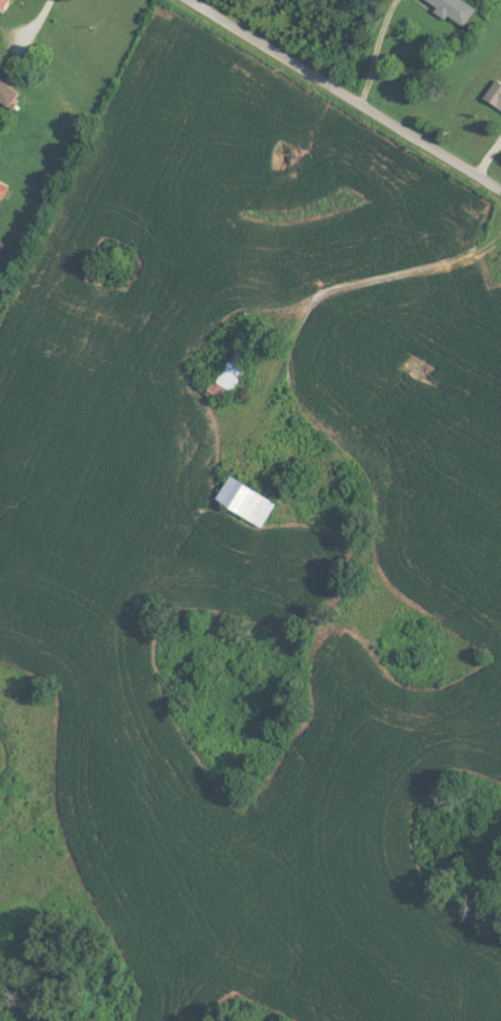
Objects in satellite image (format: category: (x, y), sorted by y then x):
building: (5, 5)
building: (457, 10)
road: (41, 23)
road: (375, 51)
building: (9, 93)
road: (344, 95)
building: (496, 95)
building: (4, 190)
road: (337, 288)
building: (229, 381)
building: (250, 501)

